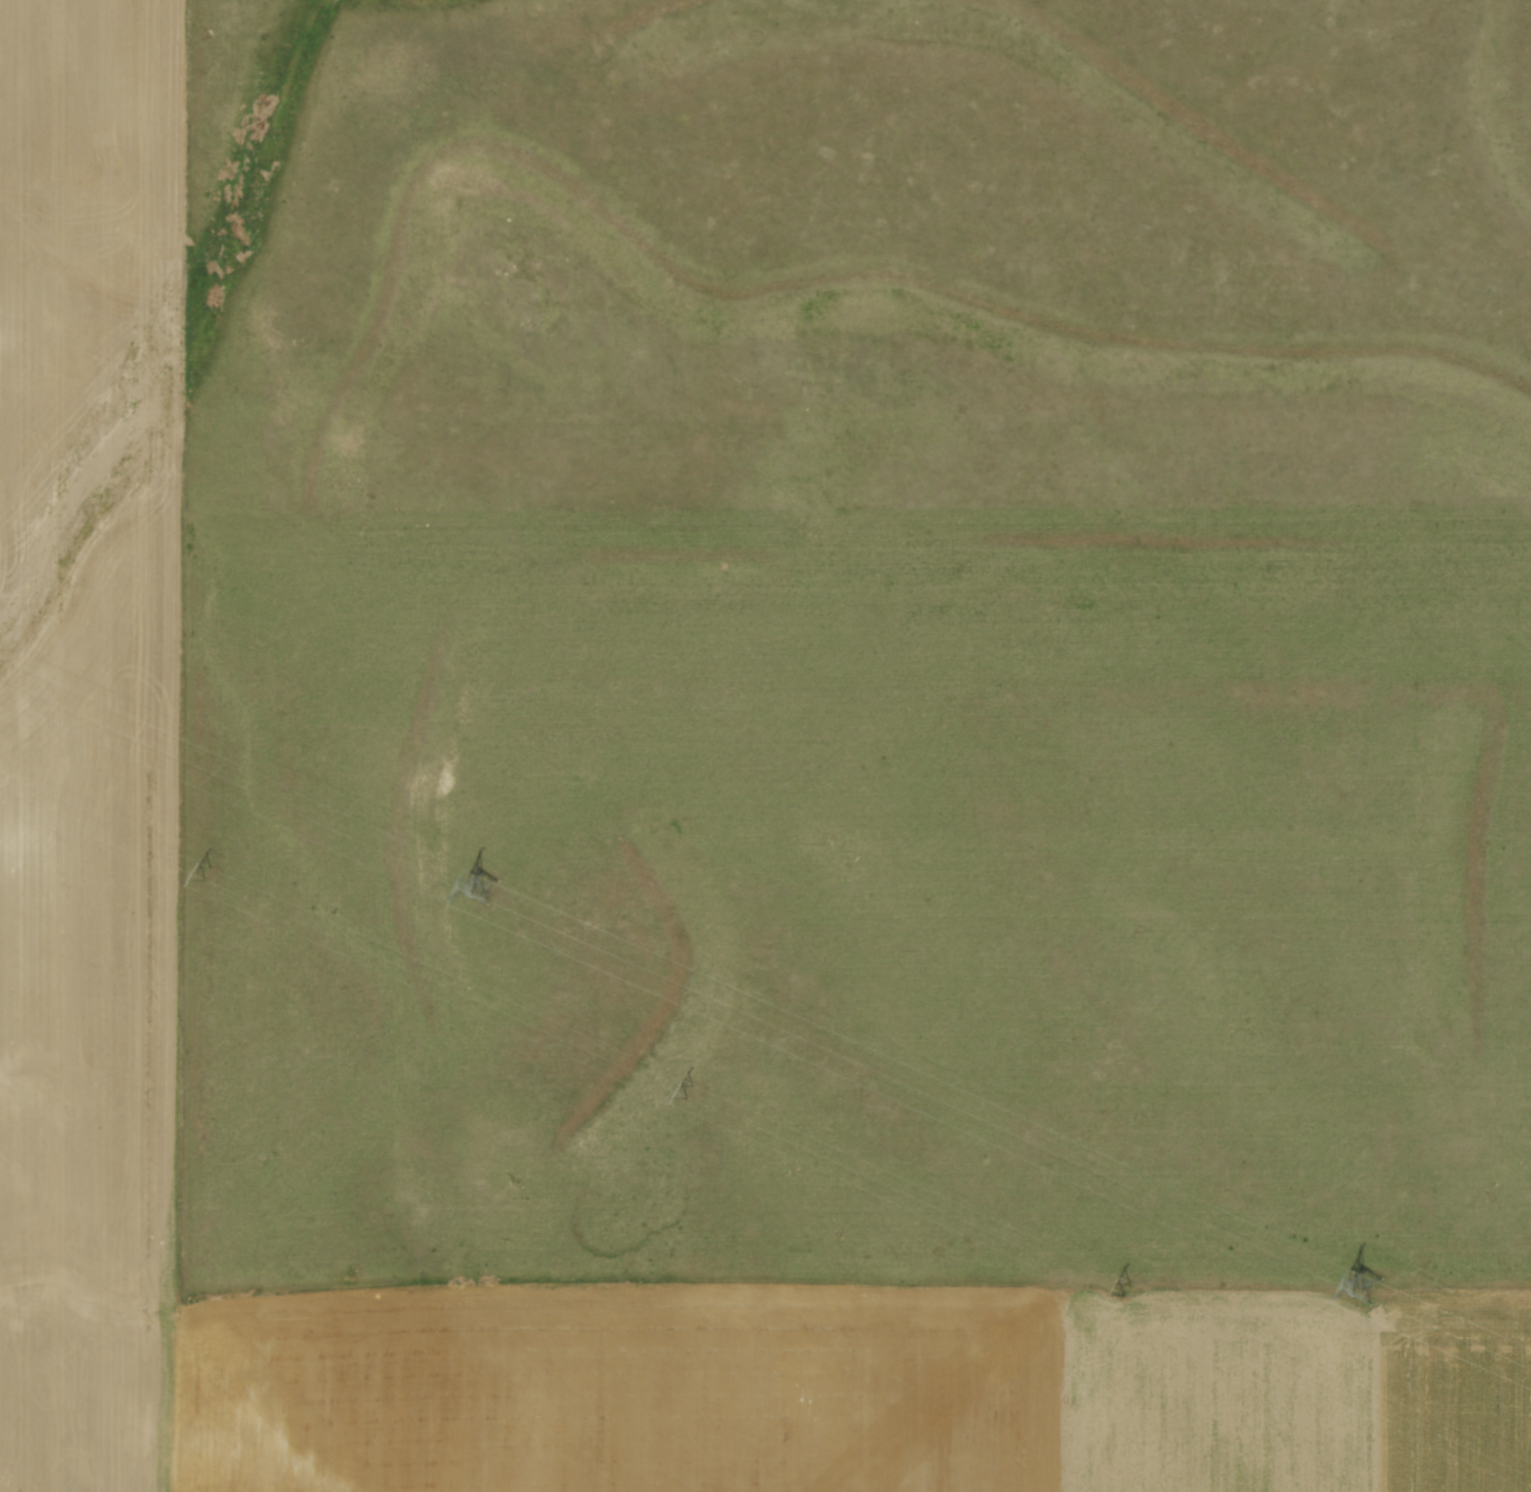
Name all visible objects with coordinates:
crop: (87, 646)
power tower: (205, 871)
power tower: (480, 882)
power tower: (688, 1089)
power tower: (1365, 1284)
power tower: (1130, 1286)

